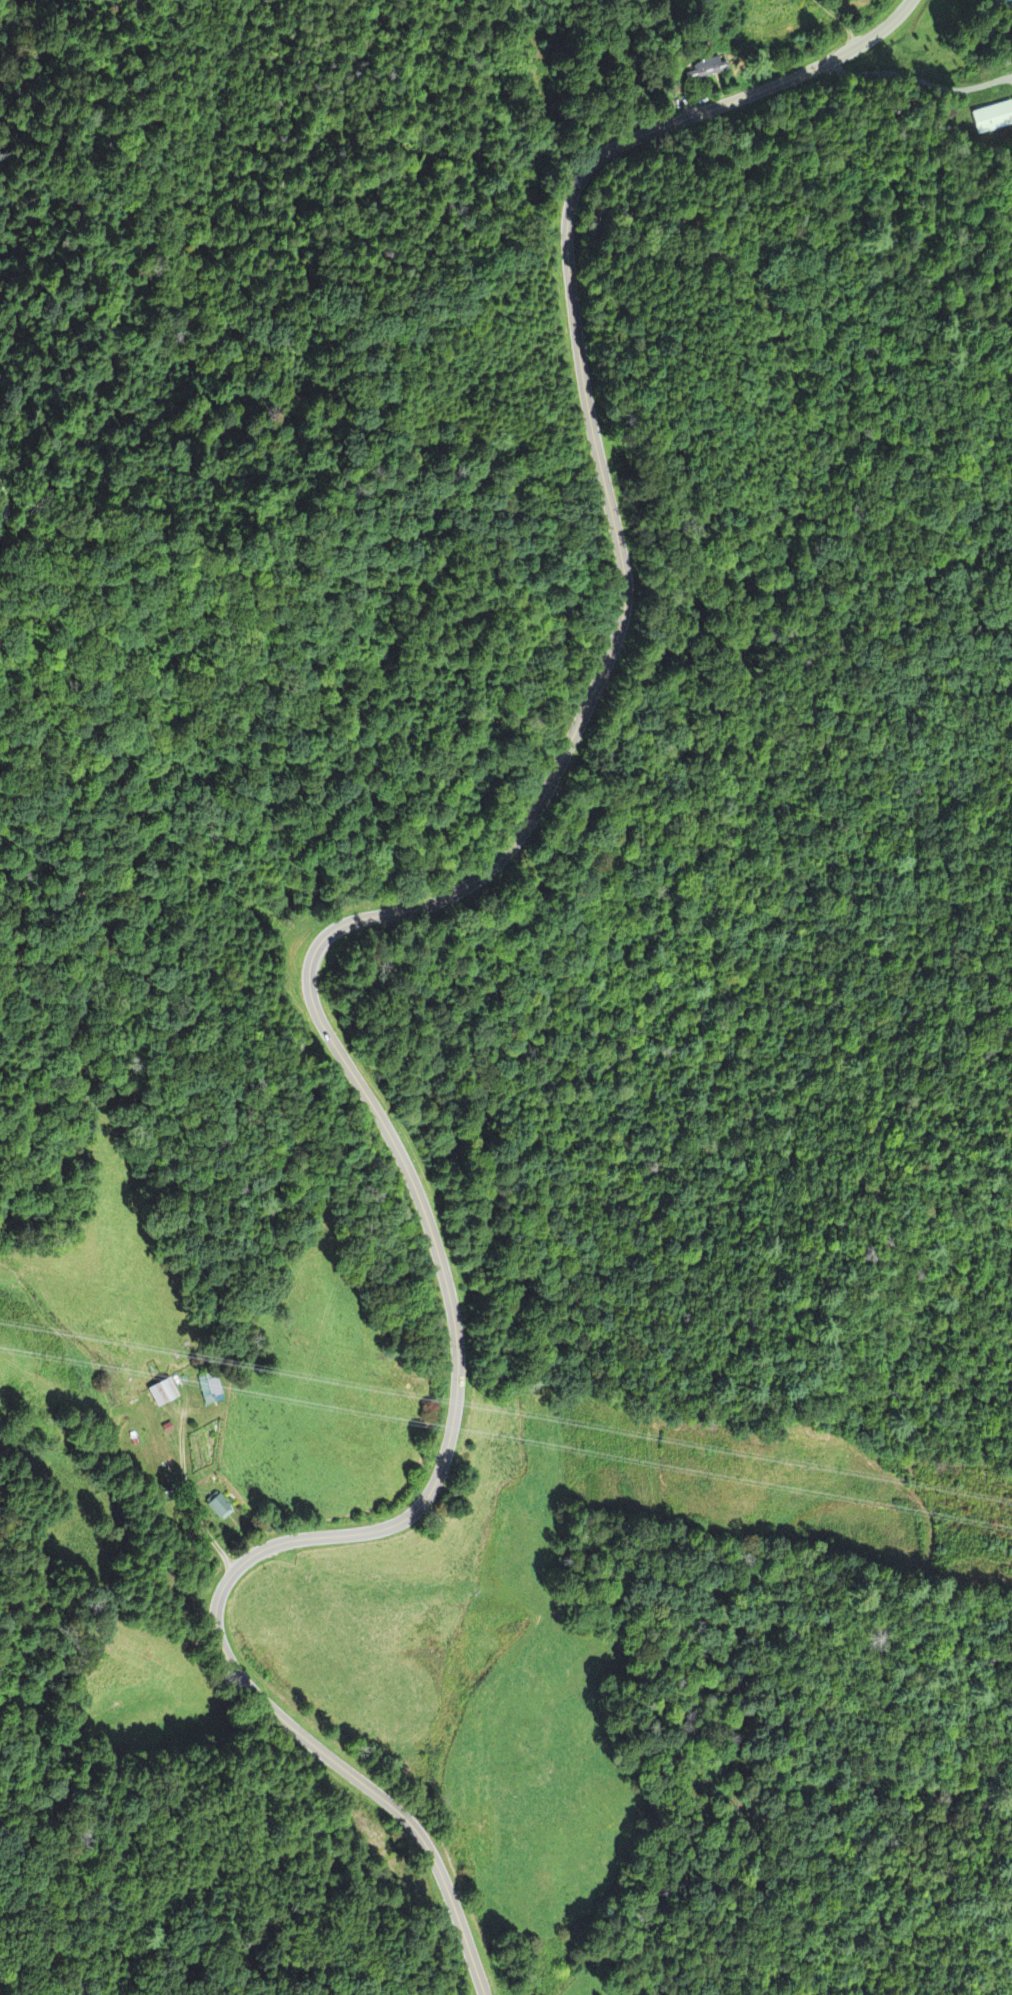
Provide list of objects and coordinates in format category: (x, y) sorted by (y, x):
building: (1005, 3)
building: (707, 71)
building: (992, 120)
road: (335, 963)
building: (167, 1397)
building: (220, 1509)

